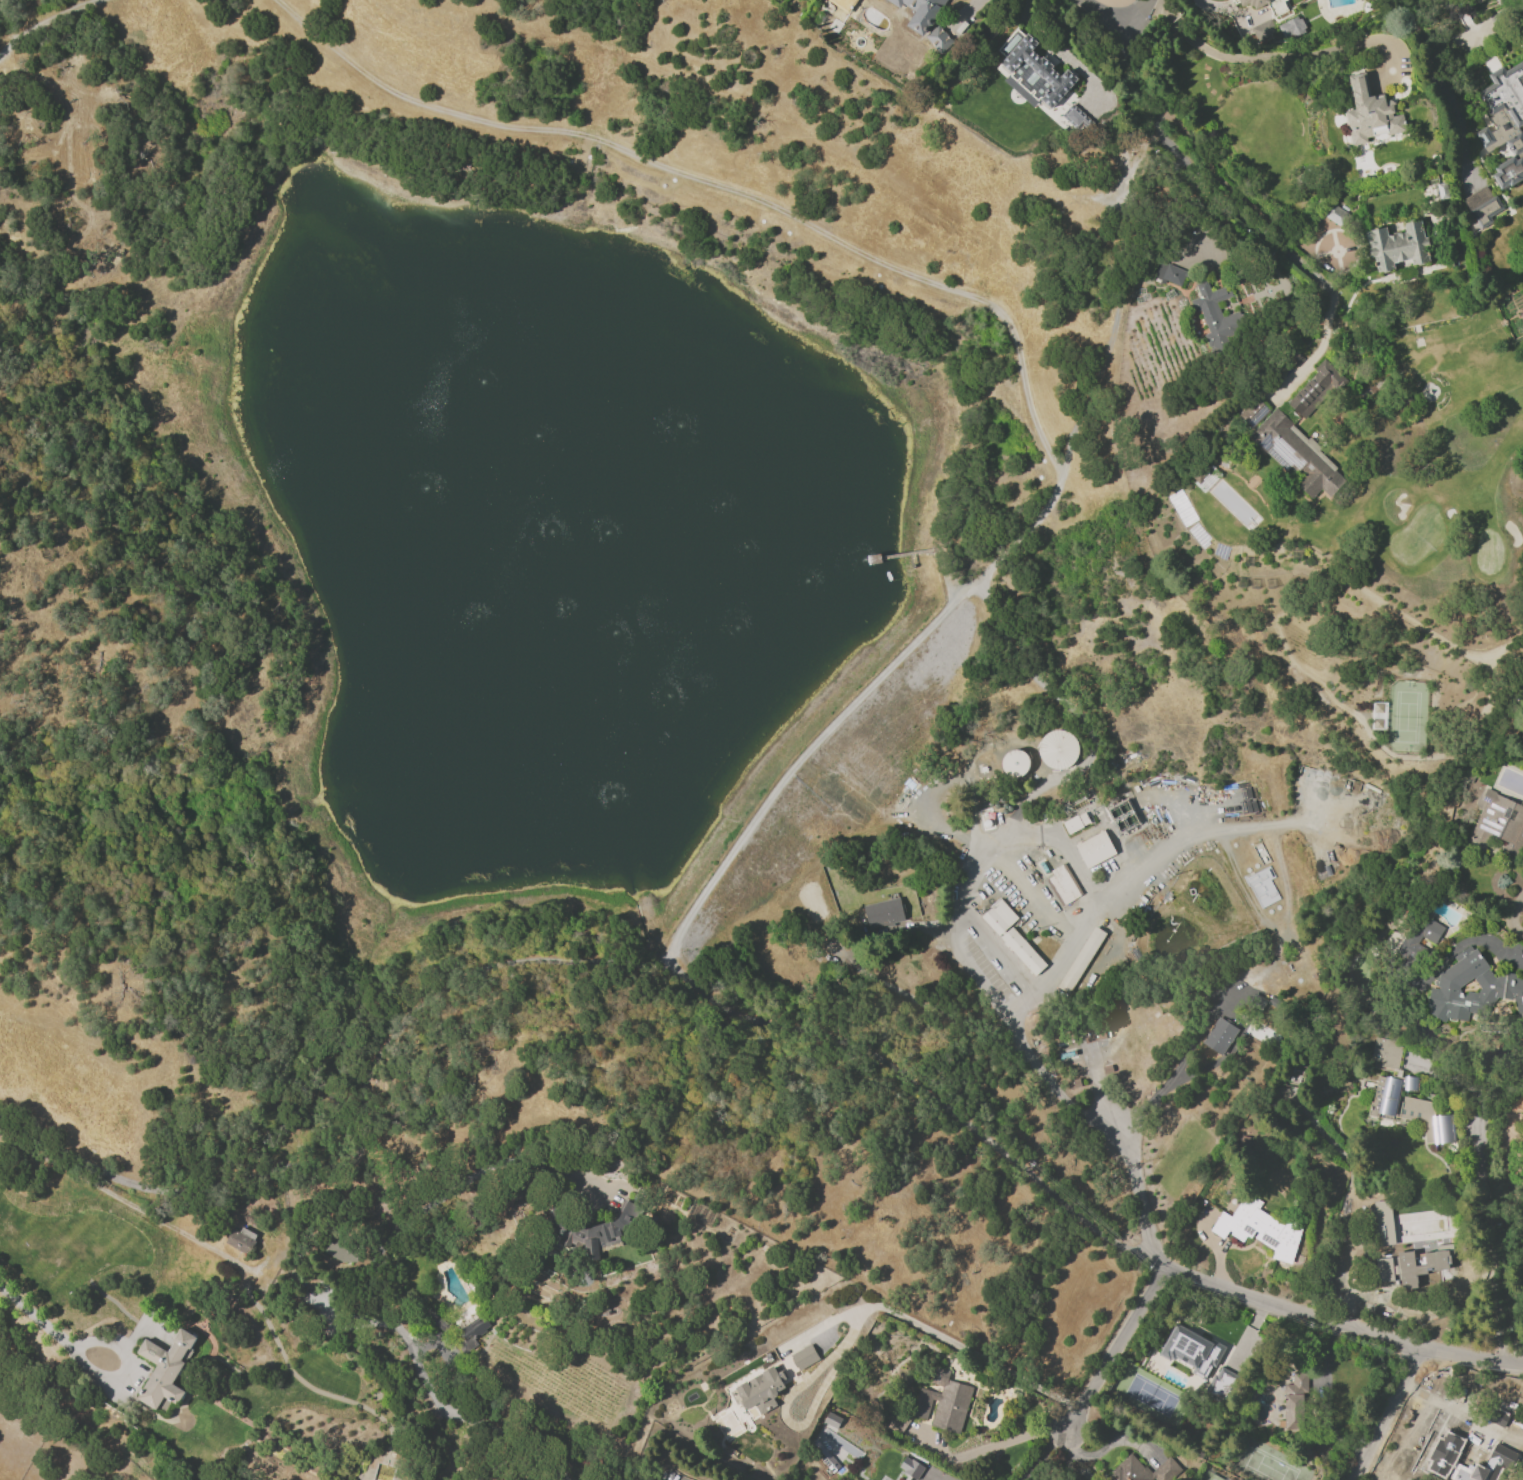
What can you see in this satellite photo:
building: (837, 3)
building: (1253, 3)
road: (1140, 11)
building: (921, 12)
road: (1105, 12)
building: (1459, 19)
road: (41, 21)
building: (1262, 30)
building: (1284, 30)
building: (938, 39)
road: (1266, 56)
building: (1031, 71)
building: (1370, 113)
building: (1075, 117)
building: (1504, 121)
road: (1203, 176)
road: (714, 184)
building: (1442, 191)
building: (1487, 212)
building: (1337, 216)
building: (1398, 246)
building: (1175, 275)
building: (1522, 287)
building: (1216, 317)
road: (1317, 349)
building: (1316, 388)
building: (1254, 413)
building: (1297, 455)
road: (911, 642)
building: (1058, 749)
dam: (805, 752)
building: (1015, 763)
building: (1000, 811)
building: (1123, 815)
building: (1076, 823)
building: (1497, 824)
road: (1063, 849)
building: (1096, 849)
building: (1262, 854)
building: (1323, 861)
building: (1065, 884)
building: (1262, 886)
building: (884, 911)
road: (1512, 915)
building: (1012, 936)
building: (1412, 940)
road: (1453, 948)
road: (999, 949)
road: (1067, 950)
building: (1082, 960)
road: (976, 977)
building: (1500, 984)
building: (1258, 1001)
road: (1017, 1005)
building: (1094, 1034)
building: (1220, 1036)
building: (1387, 1054)
building: (1410, 1083)
road: (1156, 1091)
building: (1515, 1103)
building: (1411, 1111)
road: (1101, 1124)
road: (1350, 1166)
road: (1488, 1195)
building: (1260, 1228)
building: (601, 1231)
building: (242, 1240)
building: (337, 1251)
building: (1420, 1264)
building: (1383, 1269)
building: (437, 1322)
road: (1334, 1322)
road: (44, 1326)
building: (471, 1331)
road: (932, 1331)
road: (1113, 1344)
building: (1190, 1350)
building: (805, 1357)
building: (165, 1369)
building: (1221, 1383)
building: (759, 1392)
building: (1295, 1401)
building: (944, 1402)
road: (1388, 1413)
building: (830, 1420)
building: (897, 1421)
road: (1458, 1423)
road: (1040, 1452)
building: (825, 1457)
building: (1493, 1465)
building: (910, 1467)
building: (1143, 1470)
building: (885, 1478)
road: (945, 1479)

